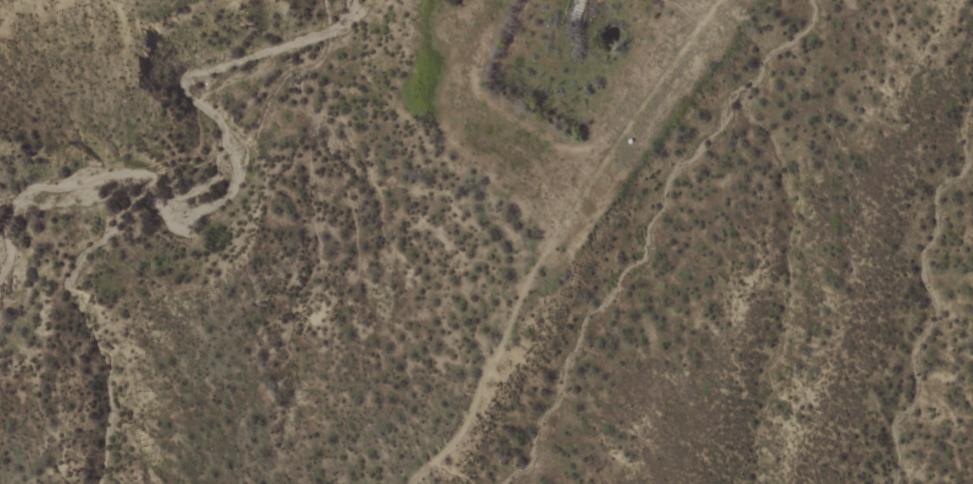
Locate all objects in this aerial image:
road: (641, 110)

